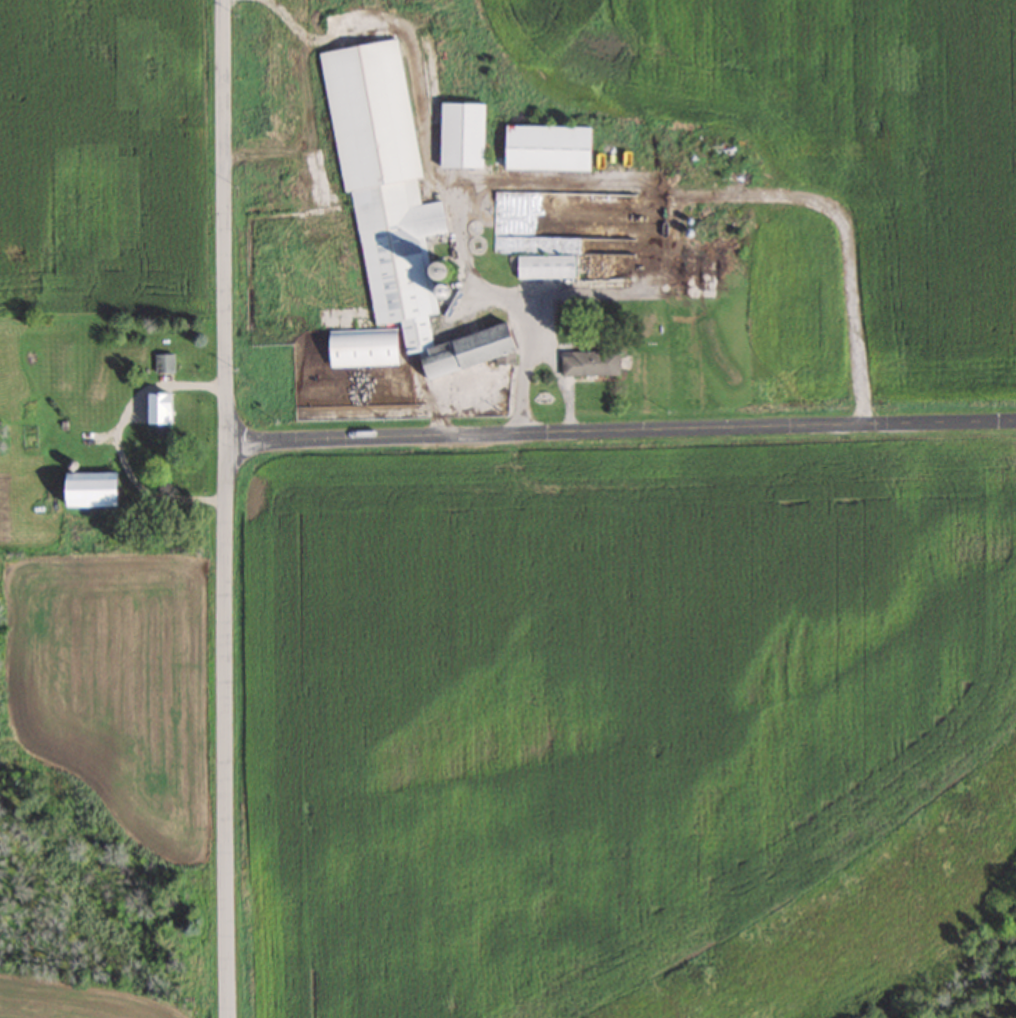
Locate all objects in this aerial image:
building: (457, 136)
building: (541, 148)
building: (390, 203)
building: (550, 254)
building: (604, 267)
building: (695, 276)
building: (358, 348)
building: (162, 364)
building: (586, 364)
road: (152, 386)
building: (174, 411)
road: (621, 432)
building: (85, 488)
road: (223, 509)

